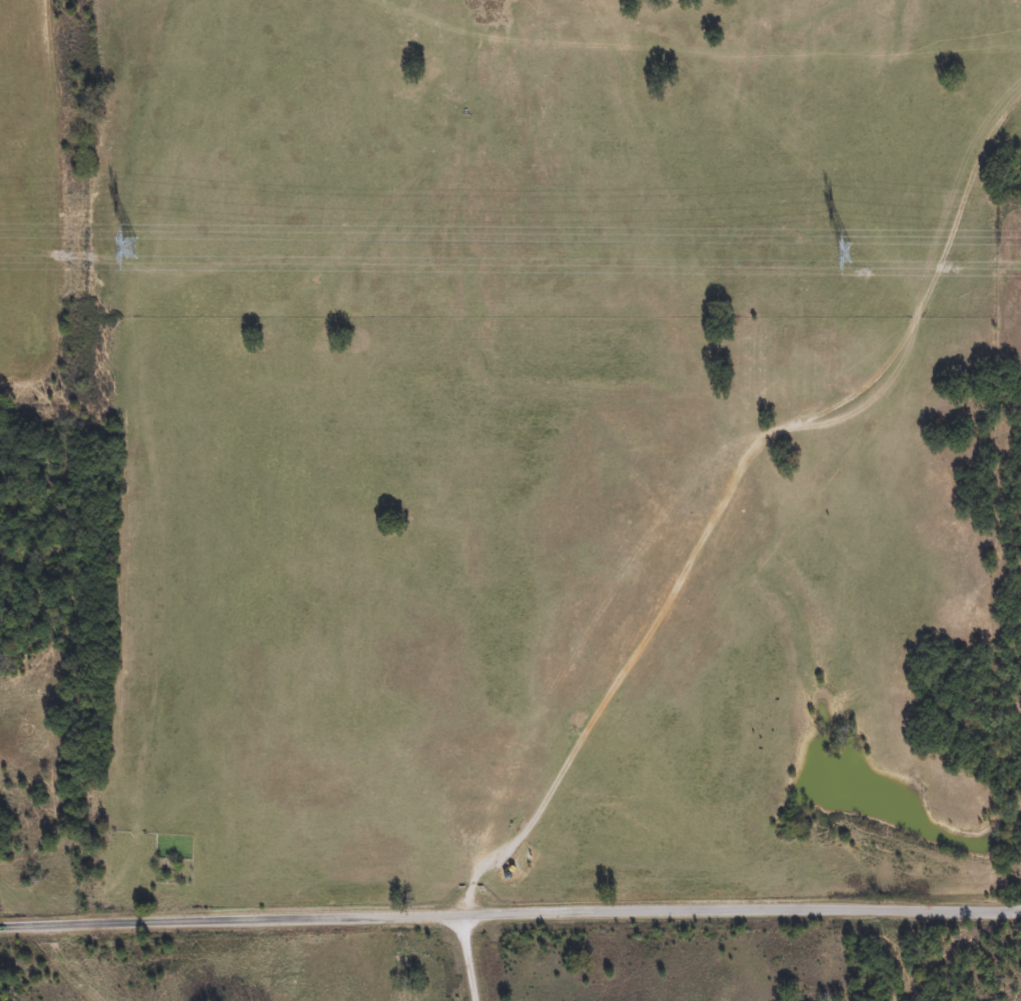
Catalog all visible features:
power tower: (131, 247)
power tower: (842, 252)
road: (727, 488)
road: (510, 916)
road: (464, 959)

